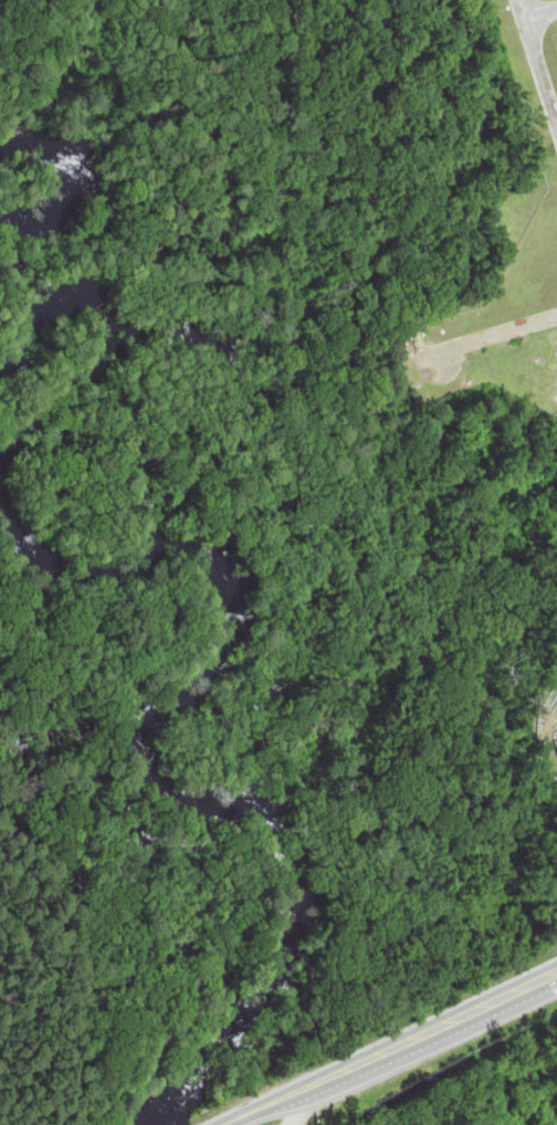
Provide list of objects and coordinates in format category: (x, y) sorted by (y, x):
road: (521, 49)
river: (43, 157)
road: (495, 284)
river: (90, 323)
river: (159, 767)
road: (393, 1050)

